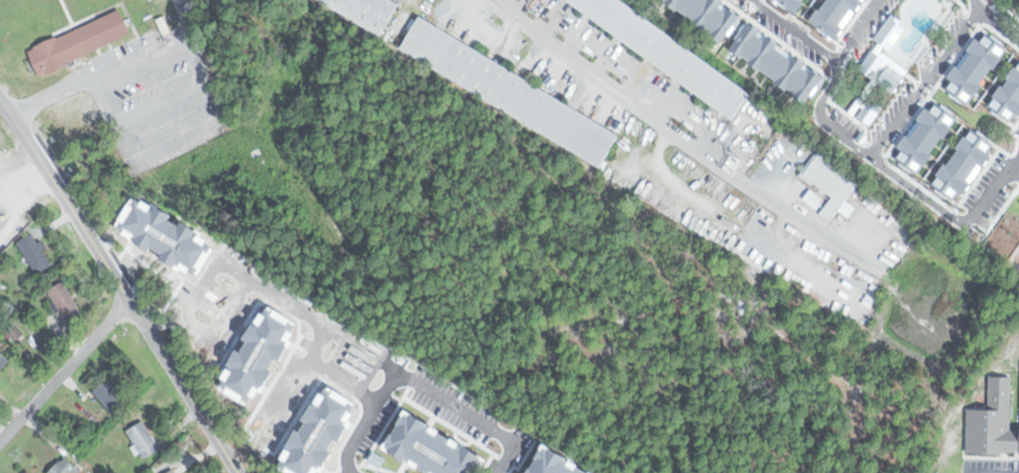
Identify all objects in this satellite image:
building: (367, 11)
building: (948, 11)
road: (996, 20)
building: (746, 21)
building: (971, 30)
building: (780, 38)
building: (80, 42)
building: (1000, 45)
building: (663, 53)
building: (803, 58)
road: (117, 73)
building: (826, 77)
building: (506, 90)
building: (850, 100)
road: (158, 102)
building: (875, 119)
road: (682, 137)
road: (174, 139)
building: (899, 139)
road: (848, 141)
building: (0, 145)
building: (928, 152)
road: (18, 162)
building: (953, 170)
building: (832, 185)
building: (978, 188)
building: (814, 199)
road: (27, 211)
building: (998, 211)
building: (36, 252)
building: (183, 279)
road: (119, 284)
building: (66, 301)
building: (225, 317)
road: (323, 326)
building: (239, 341)
building: (3, 361)
building: (253, 363)
building: (332, 367)
road: (64, 370)
road: (277, 393)
building: (111, 395)
building: (270, 396)
building: (395, 409)
building: (994, 422)
road: (363, 423)
building: (144, 440)
building: (426, 451)
building: (66, 467)
building: (171, 471)
building: (455, 472)
building: (540, 472)

